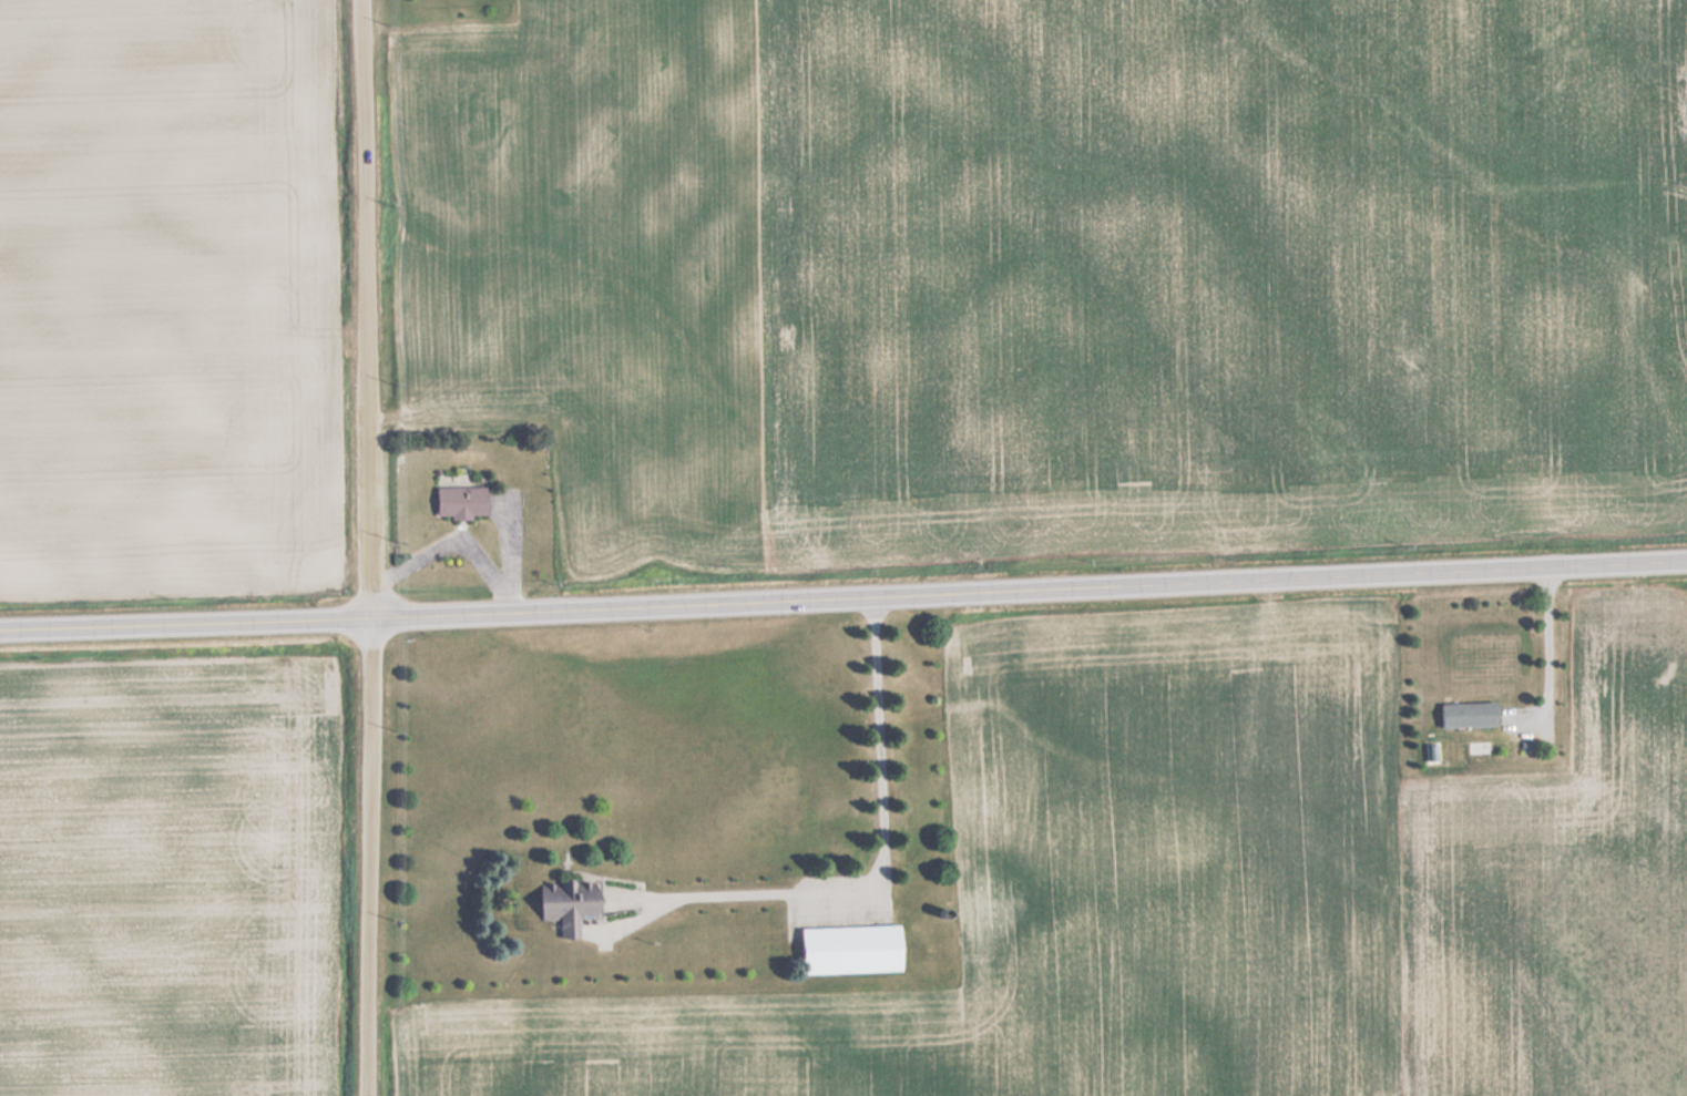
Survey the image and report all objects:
building: (454, 502)
road: (367, 547)
road: (843, 597)
building: (1462, 714)
building: (560, 903)
building: (841, 949)

